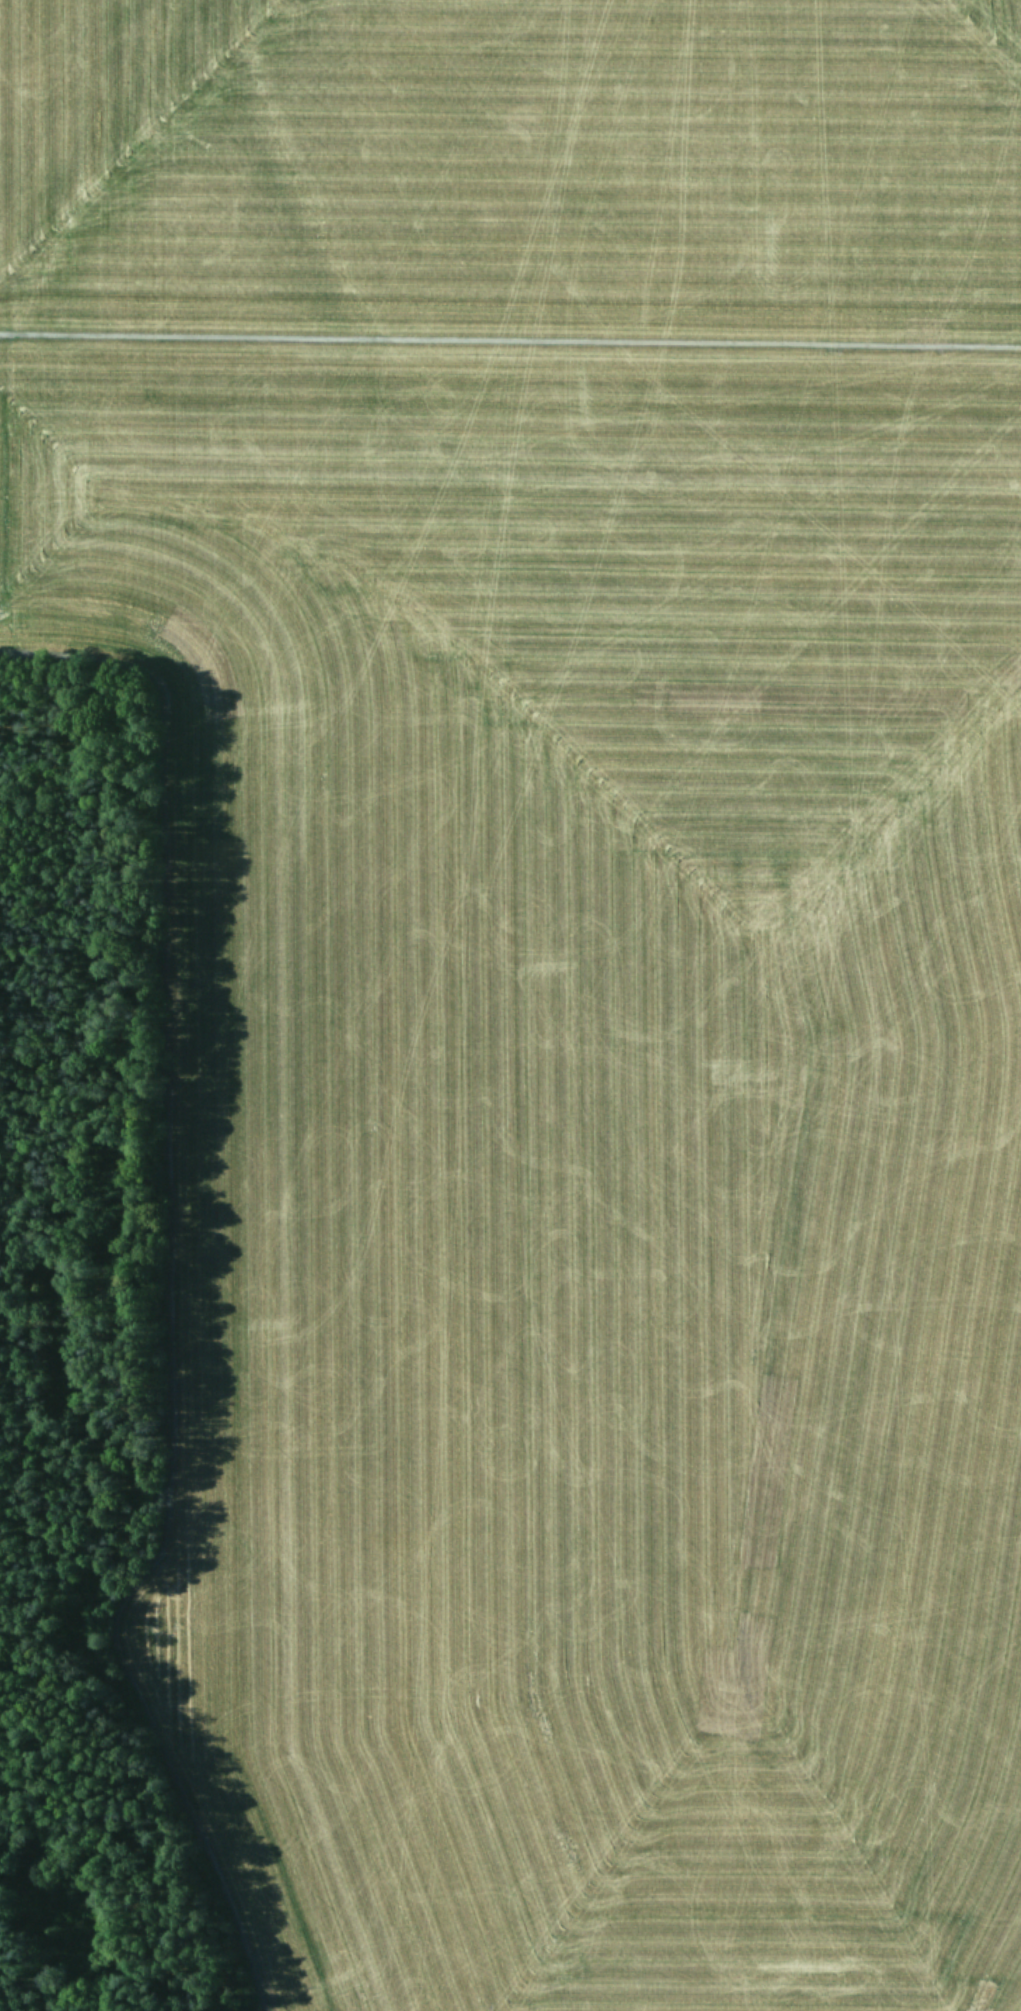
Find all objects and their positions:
crop: (556, 966)

